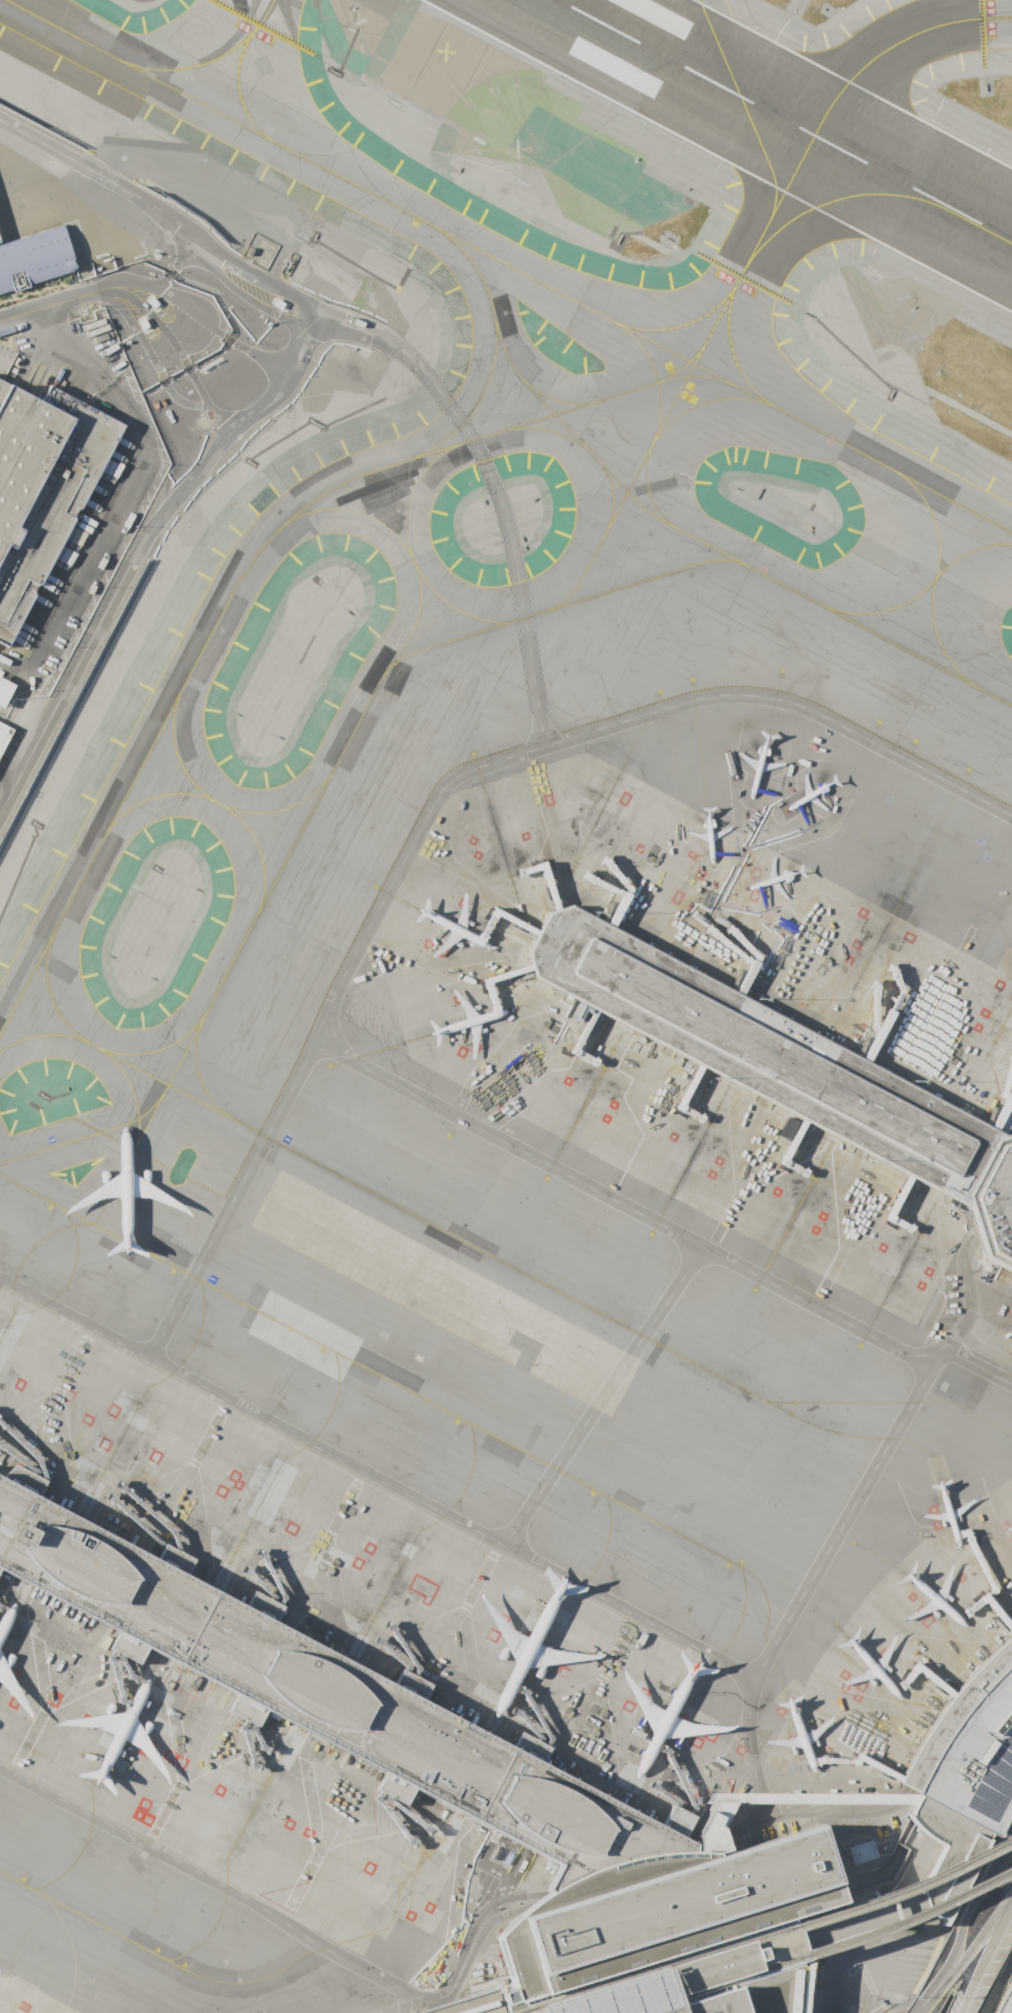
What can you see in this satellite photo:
airport taxiway: (214, 59)
airport taxiway: (185, 93)
airport taxiway: (237, 95)
airport taxiway: (743, 105)
airport runway: (785, 120)
airport taxiway: (816, 130)
road: (103, 175)
airport taxiway: (838, 201)
road: (201, 245)
building: (34, 257)
road: (183, 258)
road: (128, 280)
road: (160, 280)
road: (118, 292)
road: (42, 307)
airport taxiway: (598, 314)
road: (168, 336)
road: (176, 339)
road: (73, 341)
airport taxiway: (494, 347)
road: (149, 354)
road: (257, 355)
airport taxiway: (732, 355)
airport taxiway: (689, 375)
airport taxiway: (655, 377)
airport taxiway: (551, 398)
road: (179, 400)
road: (203, 400)
airport taxiway: (543, 429)
airport taxiway: (597, 463)
airport taxiway: (632, 479)
building: (41, 484)
road: (494, 490)
airport taxiway: (647, 491)
airport taxiway: (611, 494)
airport taxiway: (401, 543)
road: (138, 550)
airport taxiway: (408, 551)
airport taxiway: (245, 569)
airport taxiway: (933, 579)
airport taxiway: (921, 590)
airport taxiway: (389, 666)
building: (4, 689)
building: (3, 734)
road: (9, 771)
airport taxiway: (218, 803)
airport taxiway: (220, 804)
road: (396, 874)
airport: (506, 1006)
airport taxiway: (204, 1013)
airport apron: (901, 1021)
airport taxiway: (102, 1050)
airport taxiway: (105, 1053)
airport terminal: (782, 1066)
building: (782, 1066)
airport taxiway: (86, 1136)
airport taxiway: (79, 1217)
airport taxiway: (531, 1277)
road: (969, 1307)
road: (832, 1315)
road: (979, 1365)
road: (602, 1397)
airport taxiway: (450, 1412)
road: (451, 1519)
airport apron: (342, 1562)
road: (121, 1585)
road: (119, 1590)
airport apron: (901, 1653)
road: (337, 1699)
road: (335, 1704)
airport terminal: (430, 1760)
building: (430, 1760)
airport terminal: (962, 1779)
building: (962, 1779)
airport apron: (221, 1780)
road: (760, 1798)
airport terminal: (797, 1799)
building: (797, 1799)
road: (763, 1808)
road: (812, 1810)
building: (860, 1851)
road: (222, 1884)
road: (968, 1899)
airport taxiway: (93, 1920)
road: (977, 1931)
railway: (763, 1933)
road: (474, 1938)
road: (909, 1944)
railway: (740, 1945)
road: (866, 1945)
railway: (815, 1949)
road: (978, 1950)
road: (982, 1952)
airport terminal: (722, 1967)
building: (722, 1967)
road: (852, 1976)
road: (993, 1978)
road: (828, 1985)
road: (999, 1988)
road: (927, 1994)
road: (405, 1998)
airport apron: (24, 1999)
building: (467, 2003)

